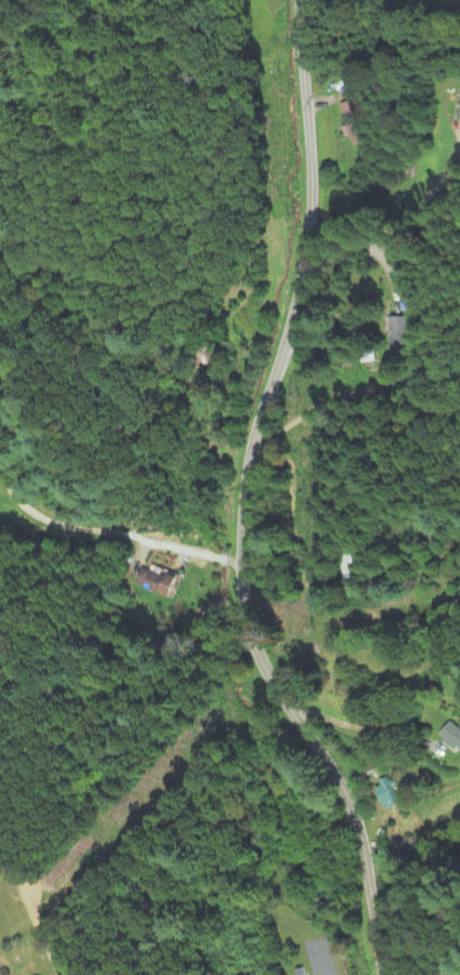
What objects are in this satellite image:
building: (459, 106)
building: (350, 123)
building: (403, 333)
road: (245, 499)
road: (115, 534)
building: (155, 583)
building: (451, 736)
building: (387, 795)
park: (16, 937)

